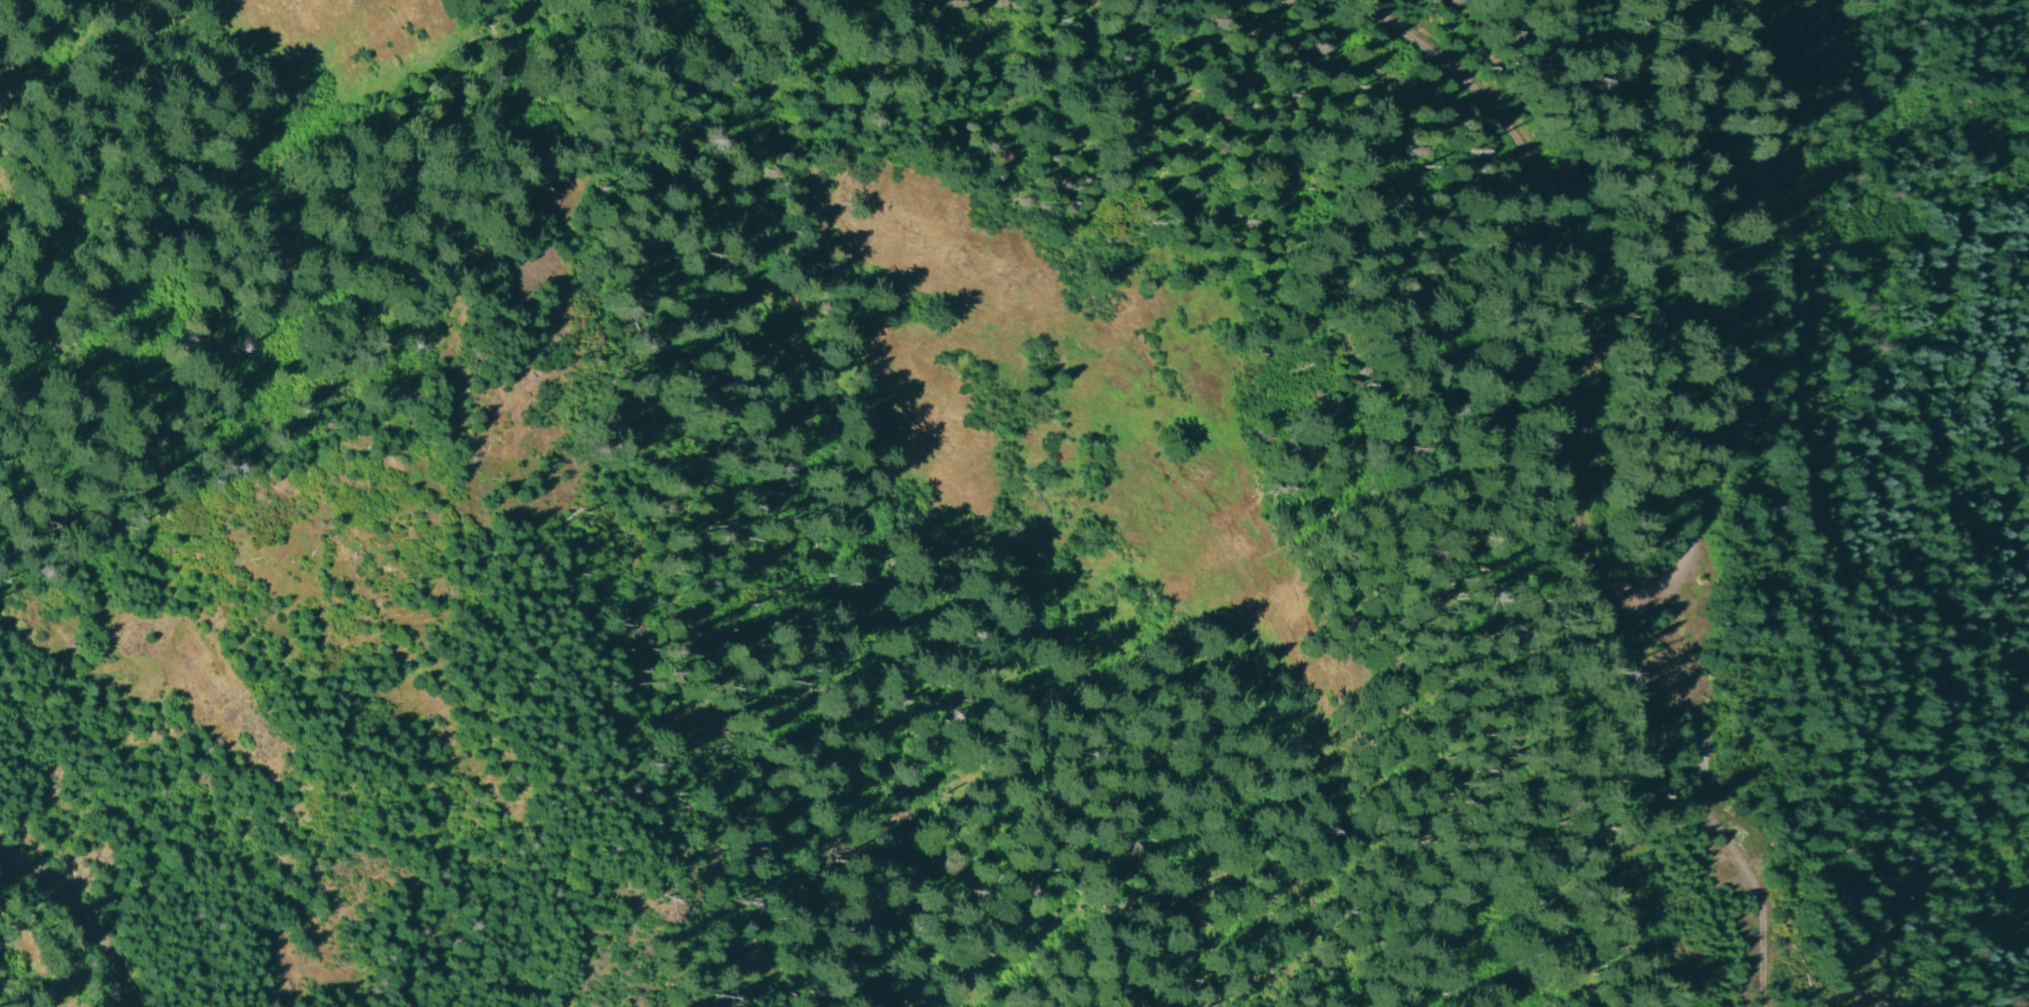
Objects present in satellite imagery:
road: (1614, 588)
road: (1682, 800)
road: (80, 918)

